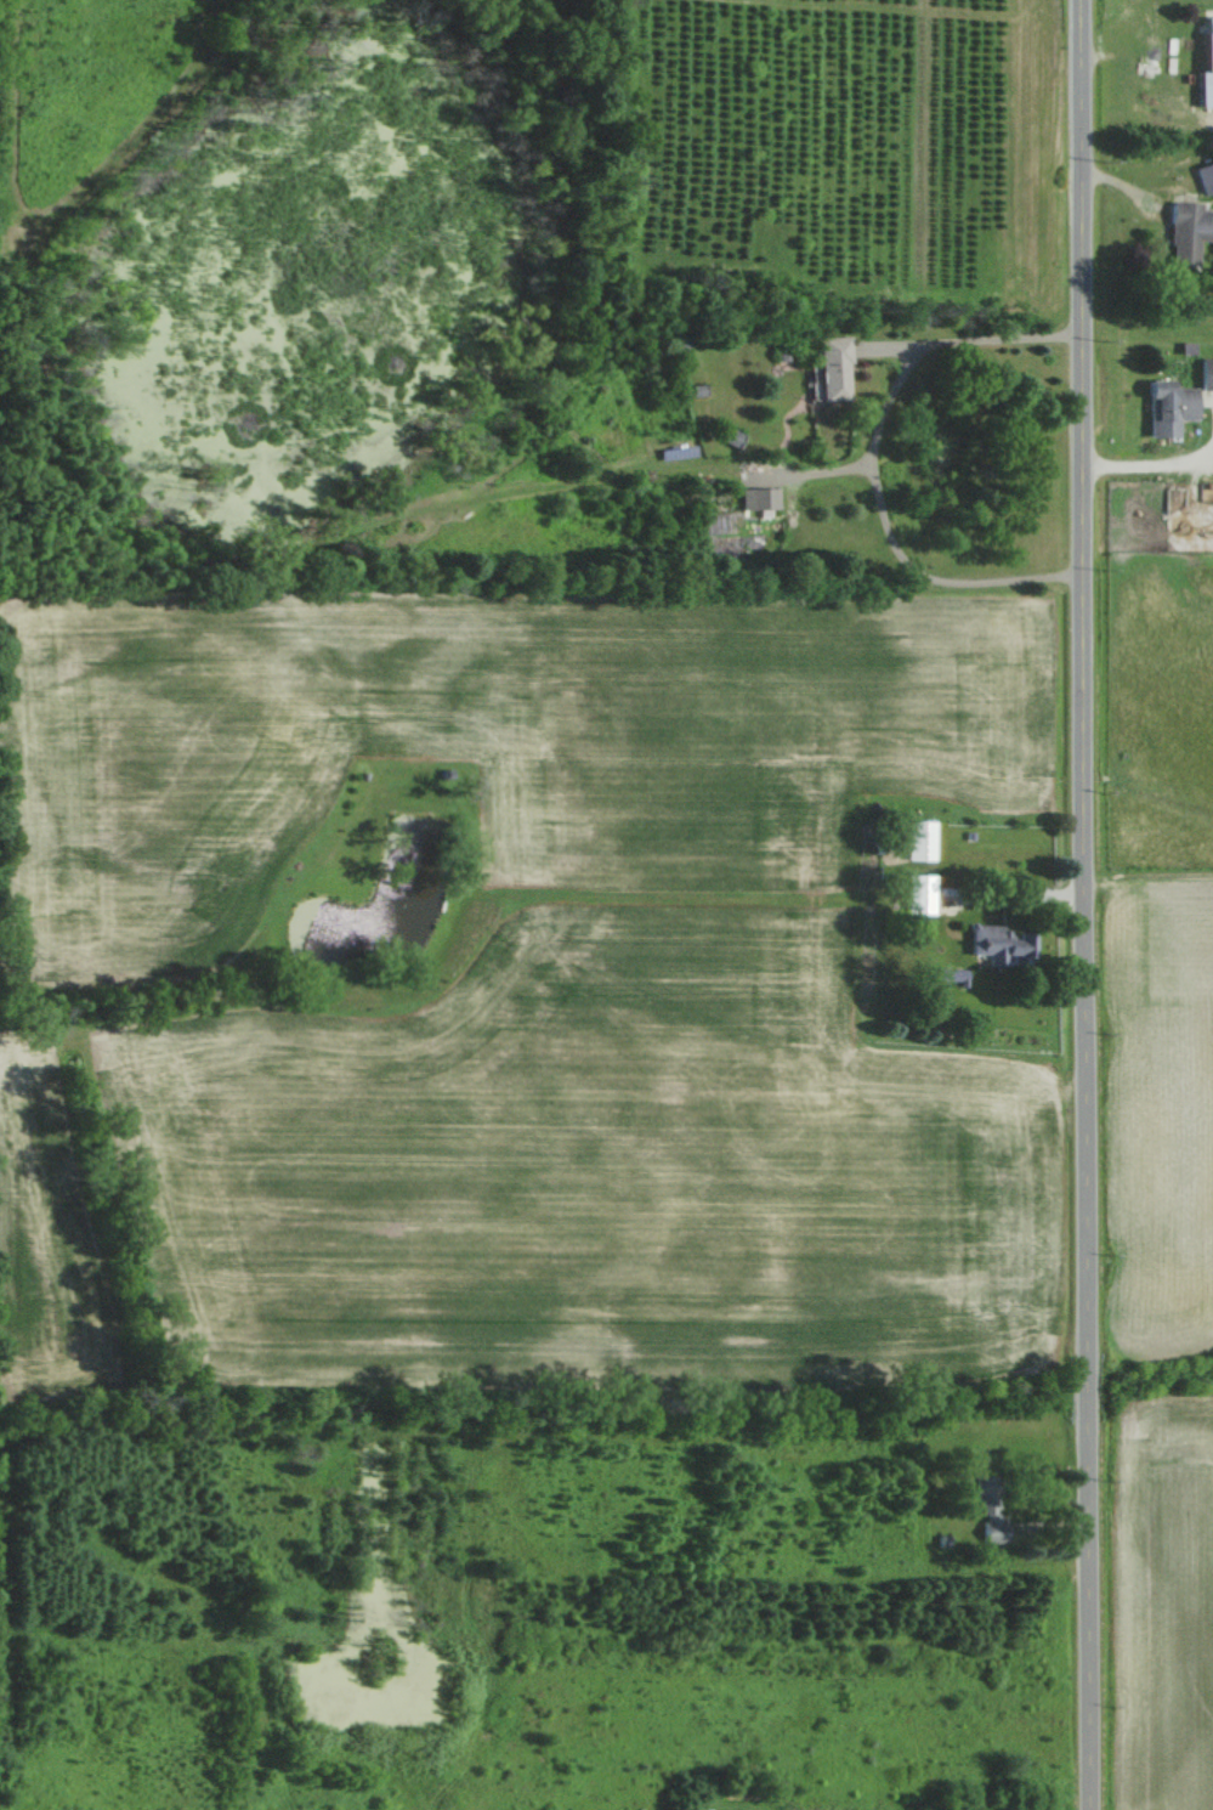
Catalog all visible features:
building: (1201, 87)
building: (1184, 231)
building: (828, 367)
building: (1171, 400)
building: (729, 436)
road: (874, 463)
road: (1145, 468)
building: (754, 498)
building: (914, 839)
building: (913, 893)
road: (1076, 904)
building: (996, 944)
building: (984, 1511)

